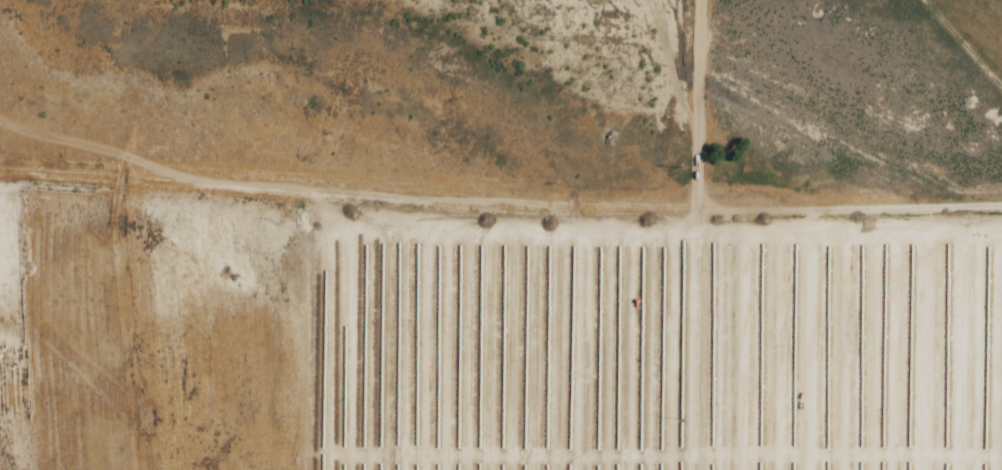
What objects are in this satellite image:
power tower: (682, 167)
power tower: (681, 419)

